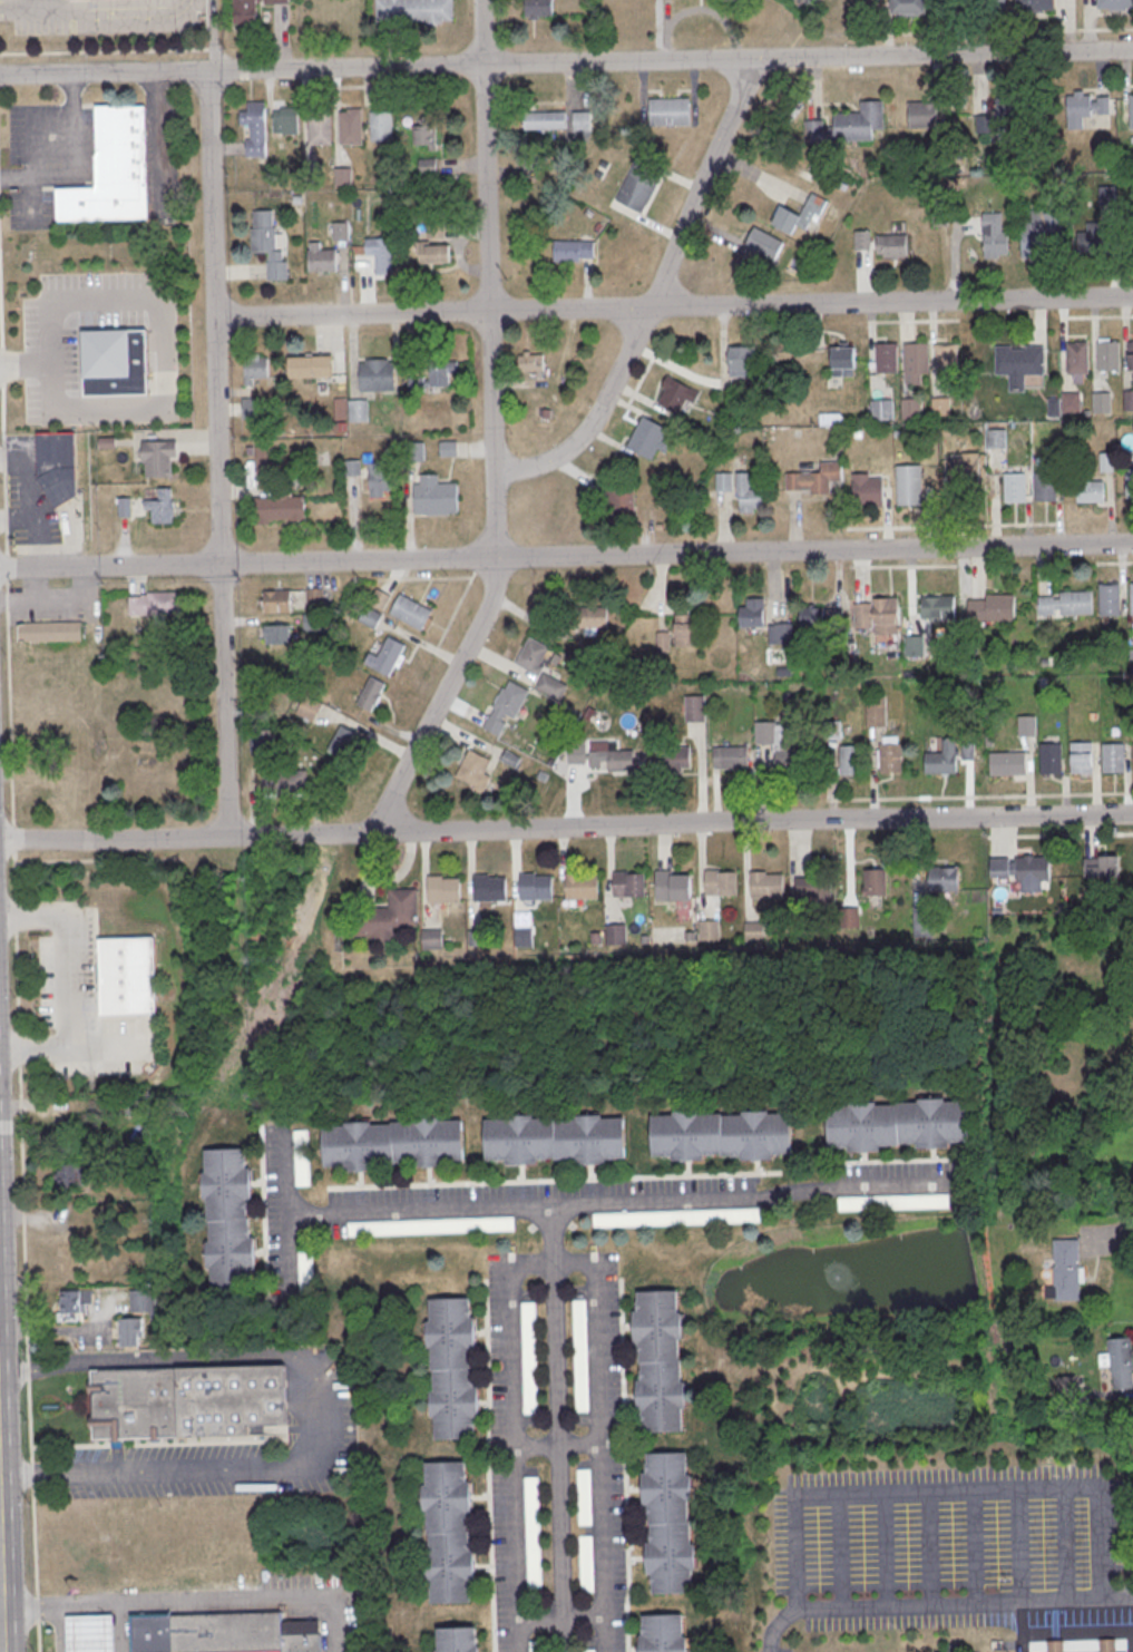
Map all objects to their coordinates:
building: (1115, 2)
building: (990, 3)
building: (1036, 4)
building: (909, 6)
road: (25, 8)
building: (538, 8)
building: (248, 11)
building: (414, 11)
road: (670, 60)
road: (104, 74)
building: (1083, 108)
building: (668, 111)
building: (1131, 111)
building: (998, 114)
building: (922, 115)
building: (285, 119)
building: (545, 120)
building: (582, 121)
building: (849, 125)
building: (320, 127)
building: (351, 127)
building: (381, 127)
building: (255, 128)
building: (423, 134)
parking lot: (49, 159)
road: (72, 163)
building: (427, 167)
building: (113, 169)
building: (313, 172)
building: (344, 177)
building: (637, 187)
building: (799, 215)
building: (1098, 226)
building: (436, 231)
building: (341, 232)
building: (1038, 232)
building: (994, 235)
road: (486, 238)
building: (862, 241)
building: (763, 242)
building: (892, 245)
building: (268, 246)
building: (573, 251)
building: (433, 252)
building: (381, 254)
building: (322, 258)
road: (653, 295)
road: (673, 306)
road: (0, 321)
road: (166, 346)
building: (1131, 354)
building: (1110, 356)
building: (887, 358)
building: (916, 358)
building: (1078, 358)
building: (947, 360)
building: (741, 361)
building: (842, 361)
building: (115, 362)
building: (534, 363)
building: (1019, 364)
road: (2, 366)
road: (21, 366)
building: (311, 366)
building: (256, 369)
building: (377, 375)
building: (433, 377)
building: (673, 397)
building: (1129, 400)
building: (1072, 403)
building: (1102, 403)
building: (251, 408)
building: (909, 408)
building: (881, 409)
building: (358, 411)
building: (647, 438)
building: (107, 443)
building: (449, 449)
building: (413, 452)
road: (216, 454)
building: (264, 457)
building: (158, 458)
building: (1105, 462)
building: (58, 466)
building: (964, 466)
building: (352, 469)
road: (4, 470)
building: (813, 478)
building: (379, 479)
building: (723, 481)
building: (1129, 481)
building: (908, 486)
building: (868, 488)
building: (1015, 488)
building: (1045, 488)
building: (1091, 491)
building: (433, 495)
building: (748, 495)
building: (621, 499)
building: (160, 507)
building: (280, 508)
road: (494, 518)
road: (566, 558)
road: (7, 567)
building: (314, 598)
building: (380, 599)
building: (1110, 599)
building: (1132, 599)
building: (277, 602)
building: (156, 604)
building: (1067, 604)
parking lot: (52, 605)
building: (938, 606)
building: (993, 608)
building: (411, 612)
building: (751, 613)
building: (880, 614)
building: (812, 616)
building: (370, 617)
building: (582, 622)
building: (314, 623)
building: (685, 629)
building: (50, 632)
building: (782, 633)
building: (276, 635)
building: (663, 642)
building: (914, 646)
building: (531, 656)
building: (385, 657)
building: (551, 685)
building: (370, 694)
road: (439, 700)
road: (10, 703)
building: (506, 706)
building: (309, 708)
building: (695, 708)
building: (876, 714)
building: (1027, 727)
building: (832, 731)
building: (262, 741)
building: (343, 742)
building: (607, 757)
building: (731, 757)
building: (1082, 757)
building: (673, 759)
building: (890, 759)
building: (942, 759)
building: (1114, 759)
building: (1052, 760)
building: (851, 761)
building: (785, 762)
building: (1007, 764)
building: (475, 771)
building: (284, 782)
road: (979, 796)
road: (566, 829)
road: (1061, 835)
road: (13, 839)
building: (1101, 867)
building: (1024, 871)
building: (945, 880)
building: (876, 882)
building: (721, 883)
building: (629, 884)
building: (766, 884)
building: (673, 886)
building: (536, 887)
building: (582, 887)
building: (443, 889)
building: (490, 889)
building: (817, 897)
building: (387, 917)
building: (849, 918)
building: (924, 921)
building: (710, 930)
building: (754, 931)
building: (616, 935)
building: (524, 938)
building: (432, 939)
road: (16, 944)
building: (127, 976)
road: (62, 984)
parking lot: (85, 1006)
road: (19, 1049)
road: (20, 1083)
road: (20, 1106)
building: (899, 1125)
building: (721, 1135)
building: (555, 1138)
building: (67, 1140)
building: (394, 1144)
building: (300, 1157)
building: (70, 1175)
road: (753, 1200)
building: (892, 1201)
road: (381, 1211)
road: (23, 1218)
building: (677, 1218)
building: (228, 1219)
building: (431, 1226)
road: (1106, 1235)
road: (289, 1260)
road: (555, 1262)
building: (304, 1268)
building: (1067, 1270)
building: (76, 1301)
building: (143, 1301)
road: (27, 1330)
building: (131, 1331)
road: (60, 1332)
road: (28, 1351)
building: (580, 1357)
building: (530, 1359)
building: (660, 1362)
building: (1121, 1363)
building: (452, 1368)
road: (28, 1372)
building: (1067, 1389)
building: (188, 1401)
road: (319, 1408)
road: (558, 1429)
road: (558, 1446)
parking lot: (240, 1449)
road: (32, 1489)
road: (949, 1492)
building: (584, 1498)
building: (670, 1523)
building: (448, 1532)
building: (533, 1534)
road: (1065, 1544)
road: (1019, 1546)
road: (976, 1548)
road: (930, 1550)
road: (886, 1551)
parking lot: (959, 1551)
road: (840, 1552)
building: (587, 1565)
road: (191, 1601)
road: (1055, 1601)
road: (883, 1607)
road: (38, 1611)
road: (563, 1617)
road: (0, 1631)
building: (90, 1633)
building: (223, 1633)
building: (665, 1634)
road: (39, 1639)
building: (458, 1641)
building: (537, 1646)
building: (1056, 1646)
building: (1108, 1646)
building: (954, 1649)

